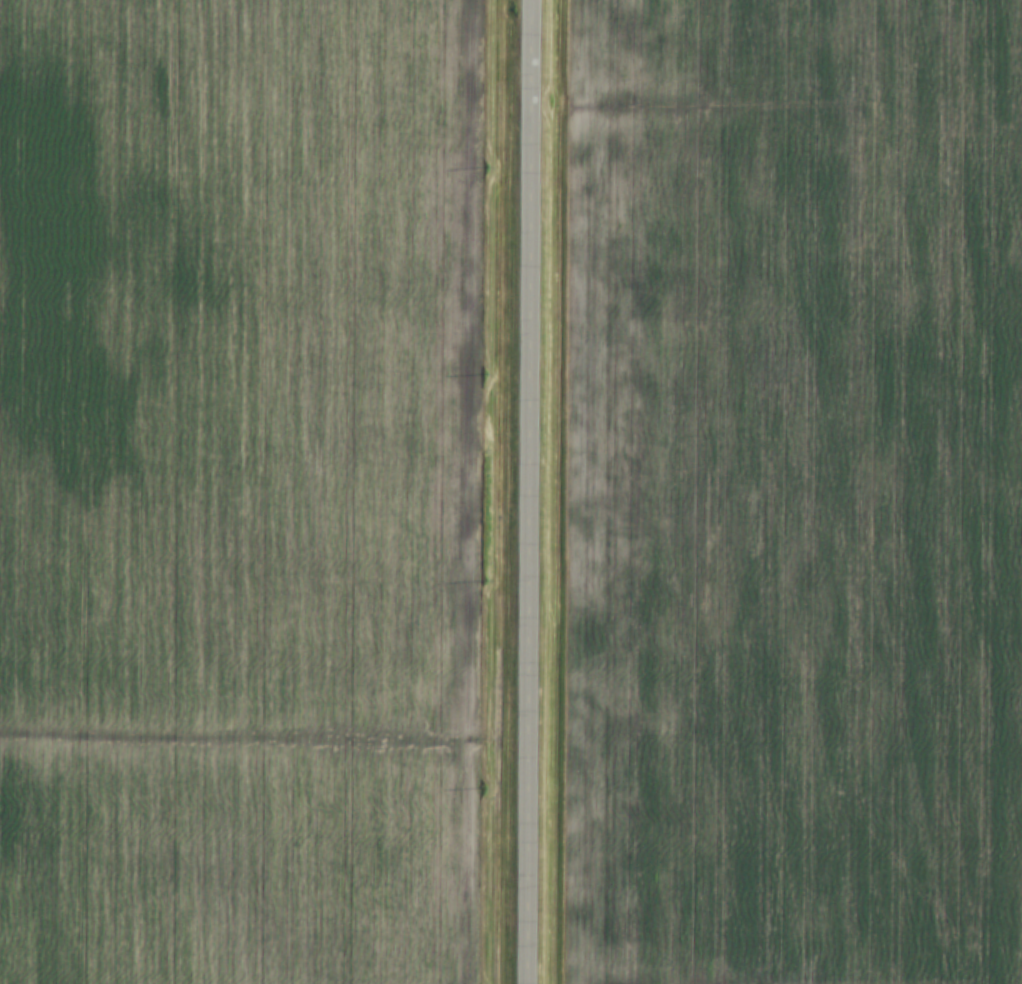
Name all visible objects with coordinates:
road: (531, 491)

